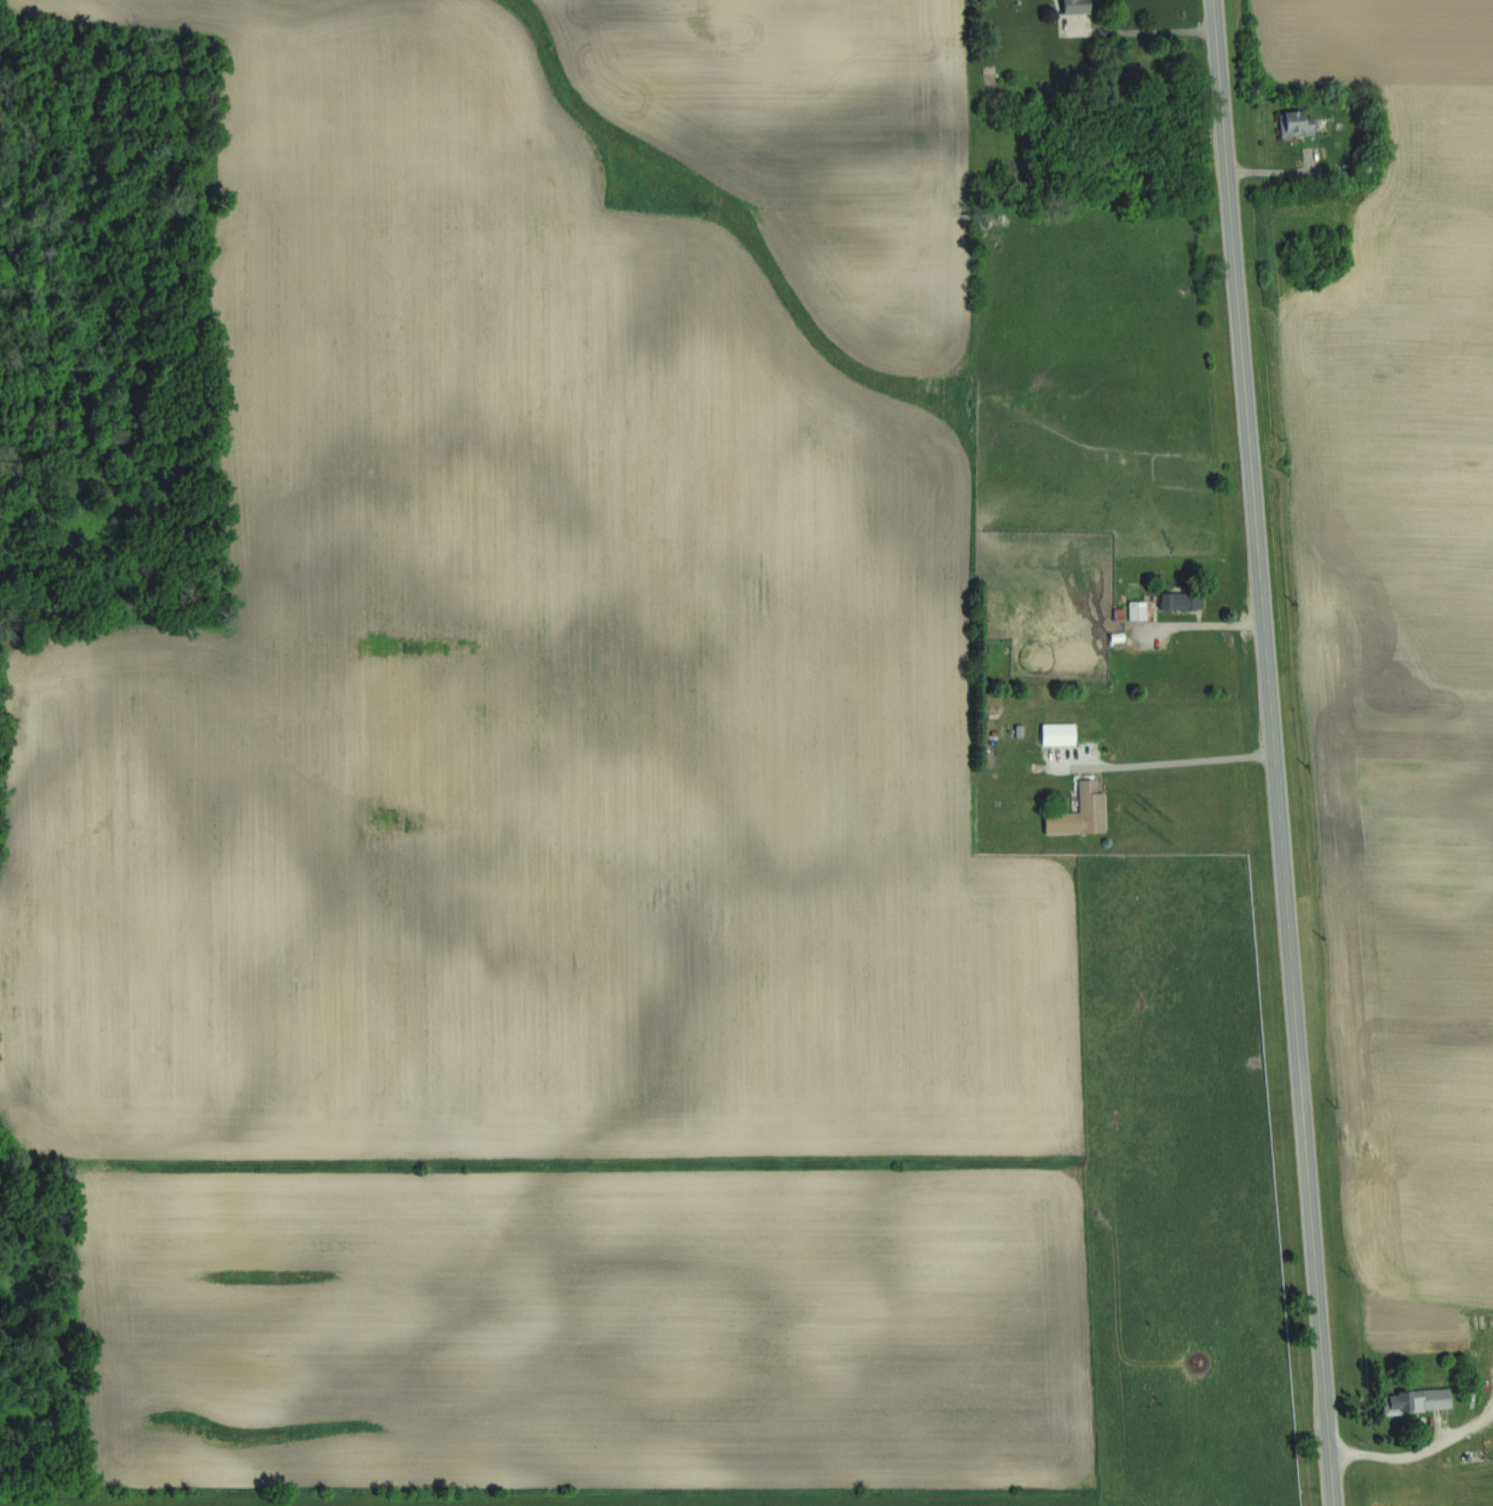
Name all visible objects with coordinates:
building: (1076, 6)
road: (1141, 28)
building: (1294, 124)
building: (1361, 161)
road: (1285, 171)
building: (1180, 601)
building: (1138, 609)
building: (1120, 612)
road: (1199, 624)
building: (1058, 734)
road: (1277, 753)
road: (1186, 758)
building: (1089, 809)
building: (1417, 1401)
road: (1417, 1454)

